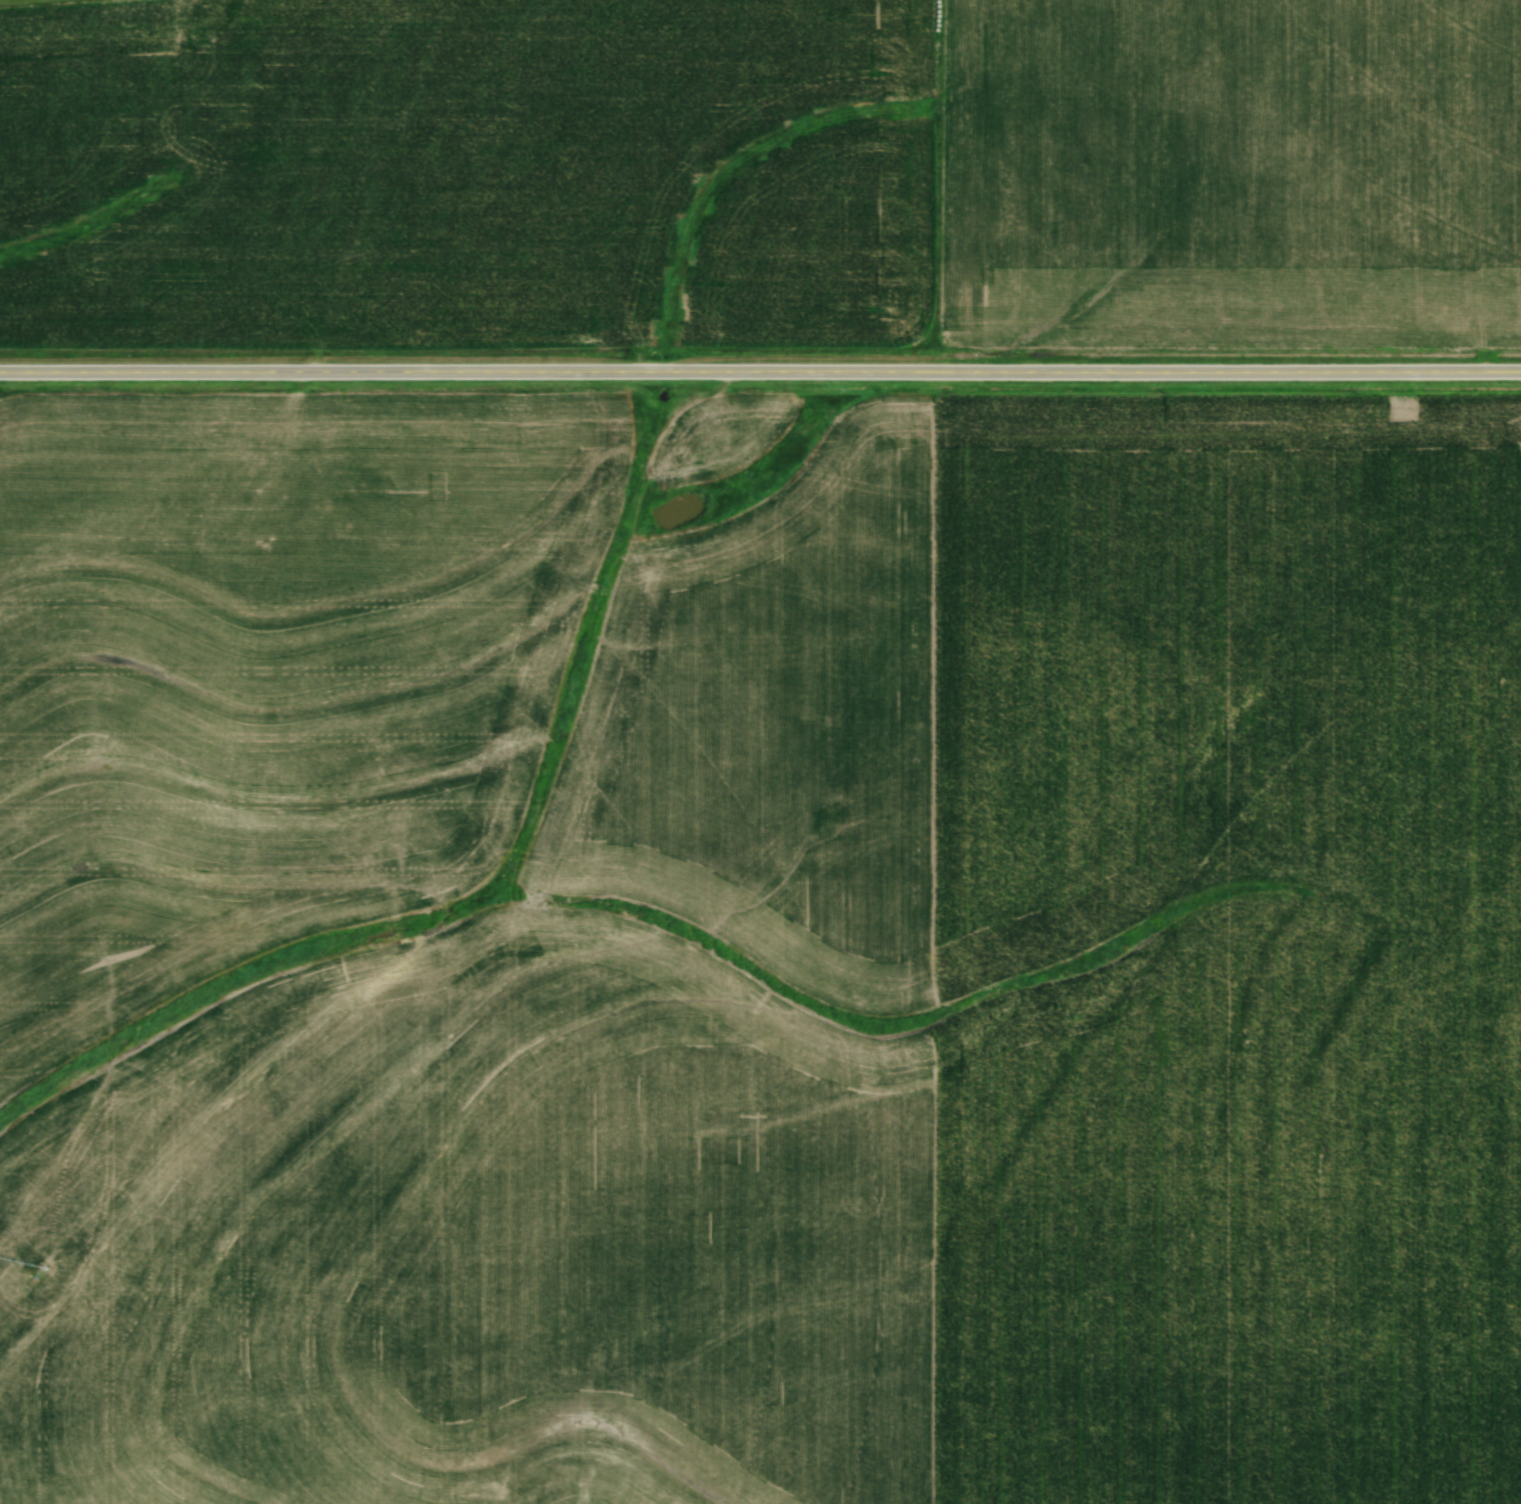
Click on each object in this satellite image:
road: (760, 369)

